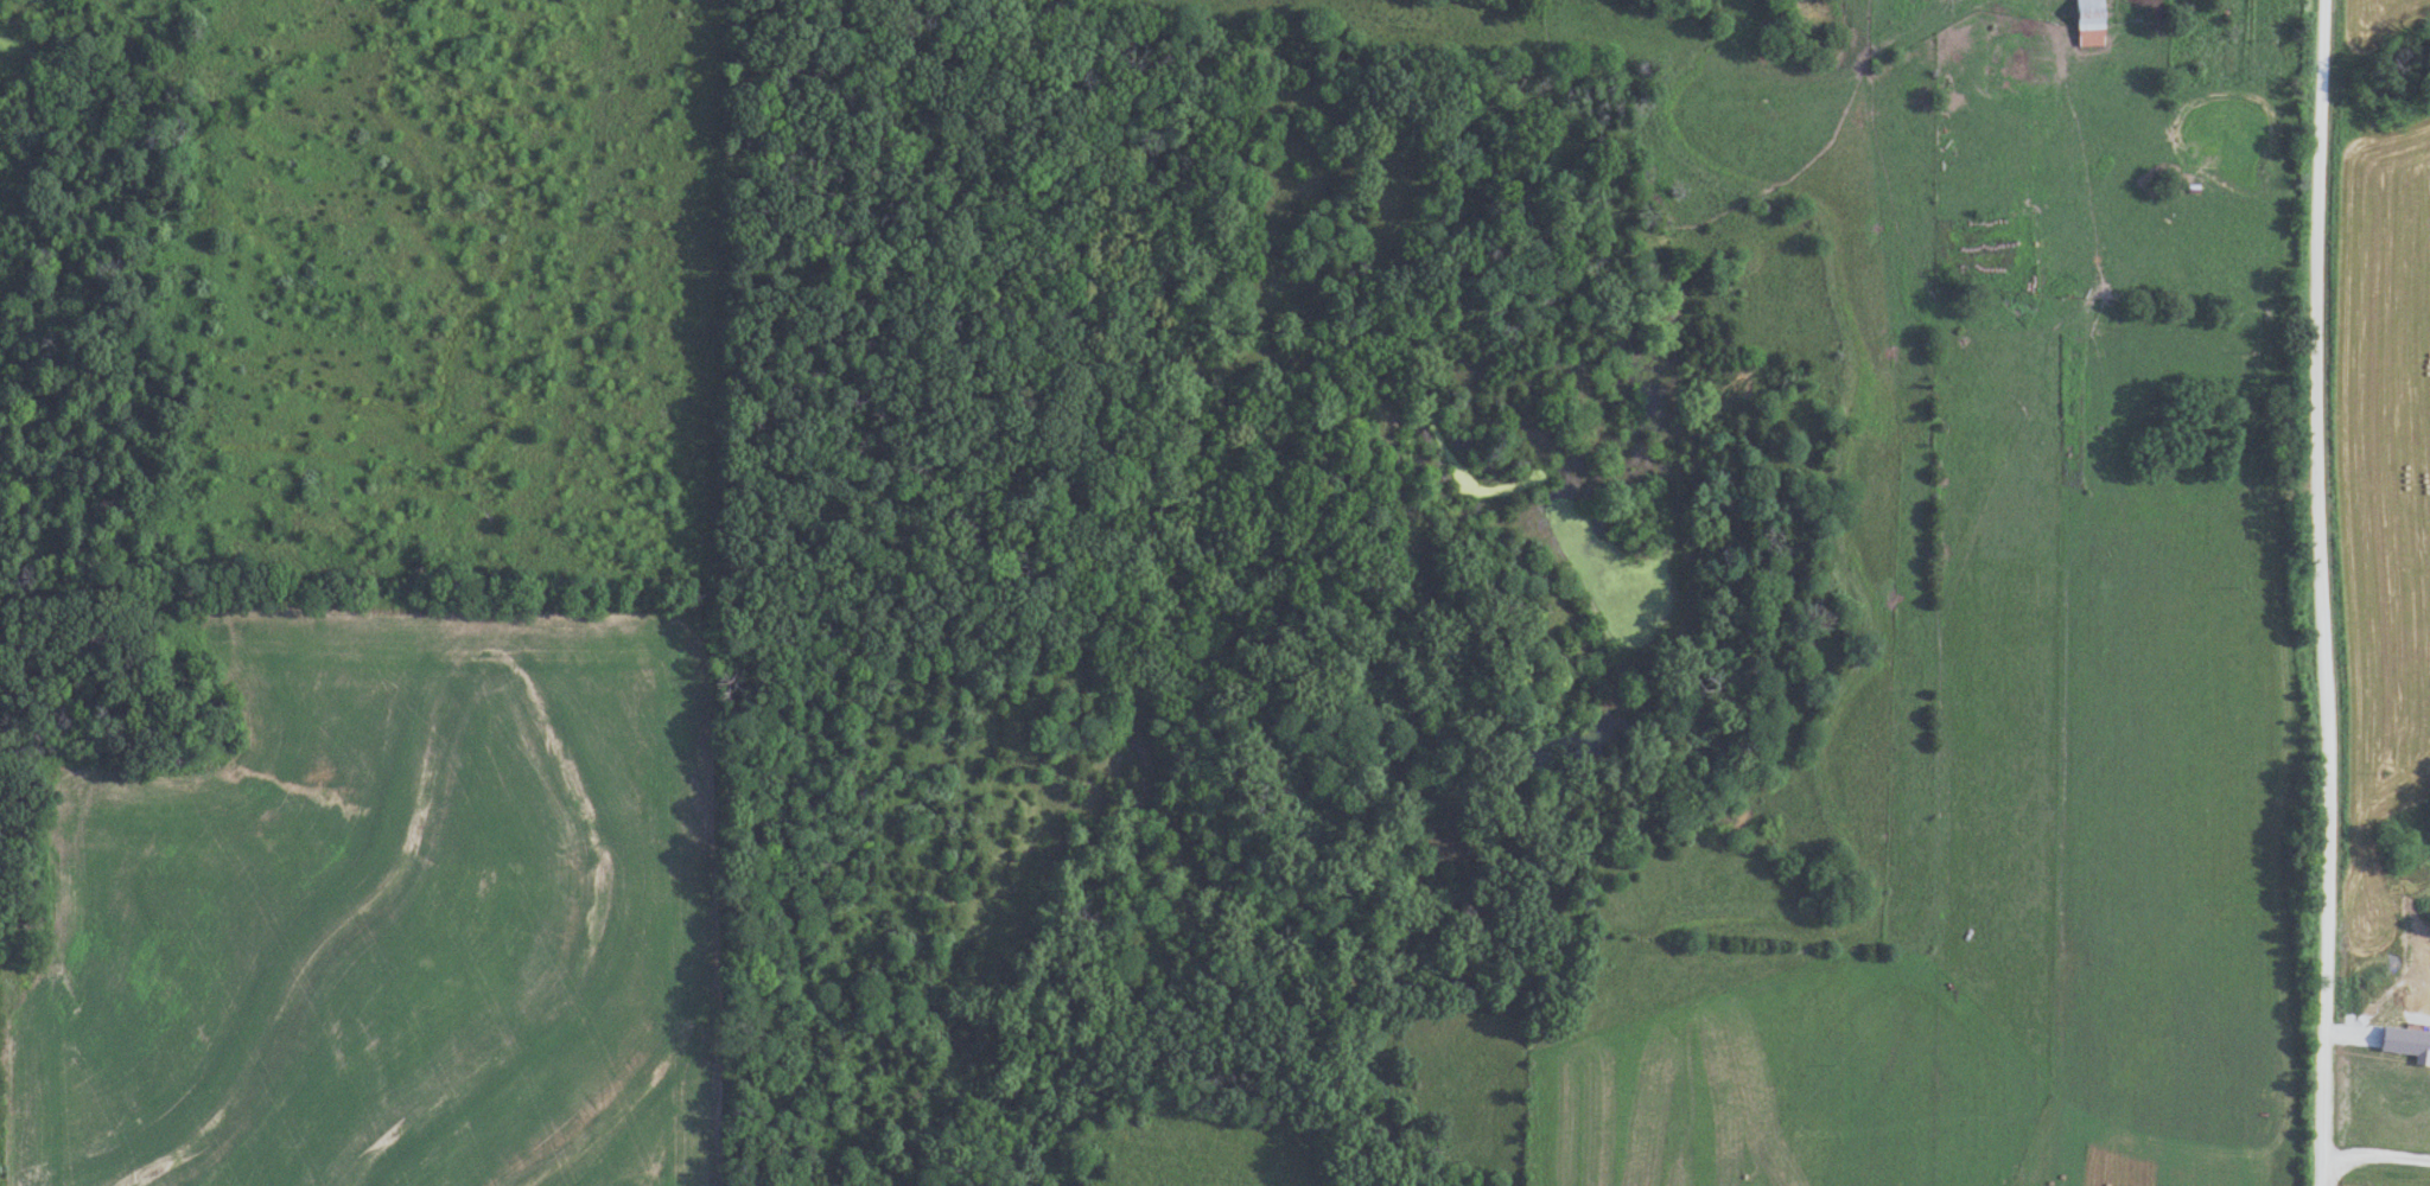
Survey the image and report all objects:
building: (2092, 23)
road: (2326, 592)
road: (2377, 1168)

